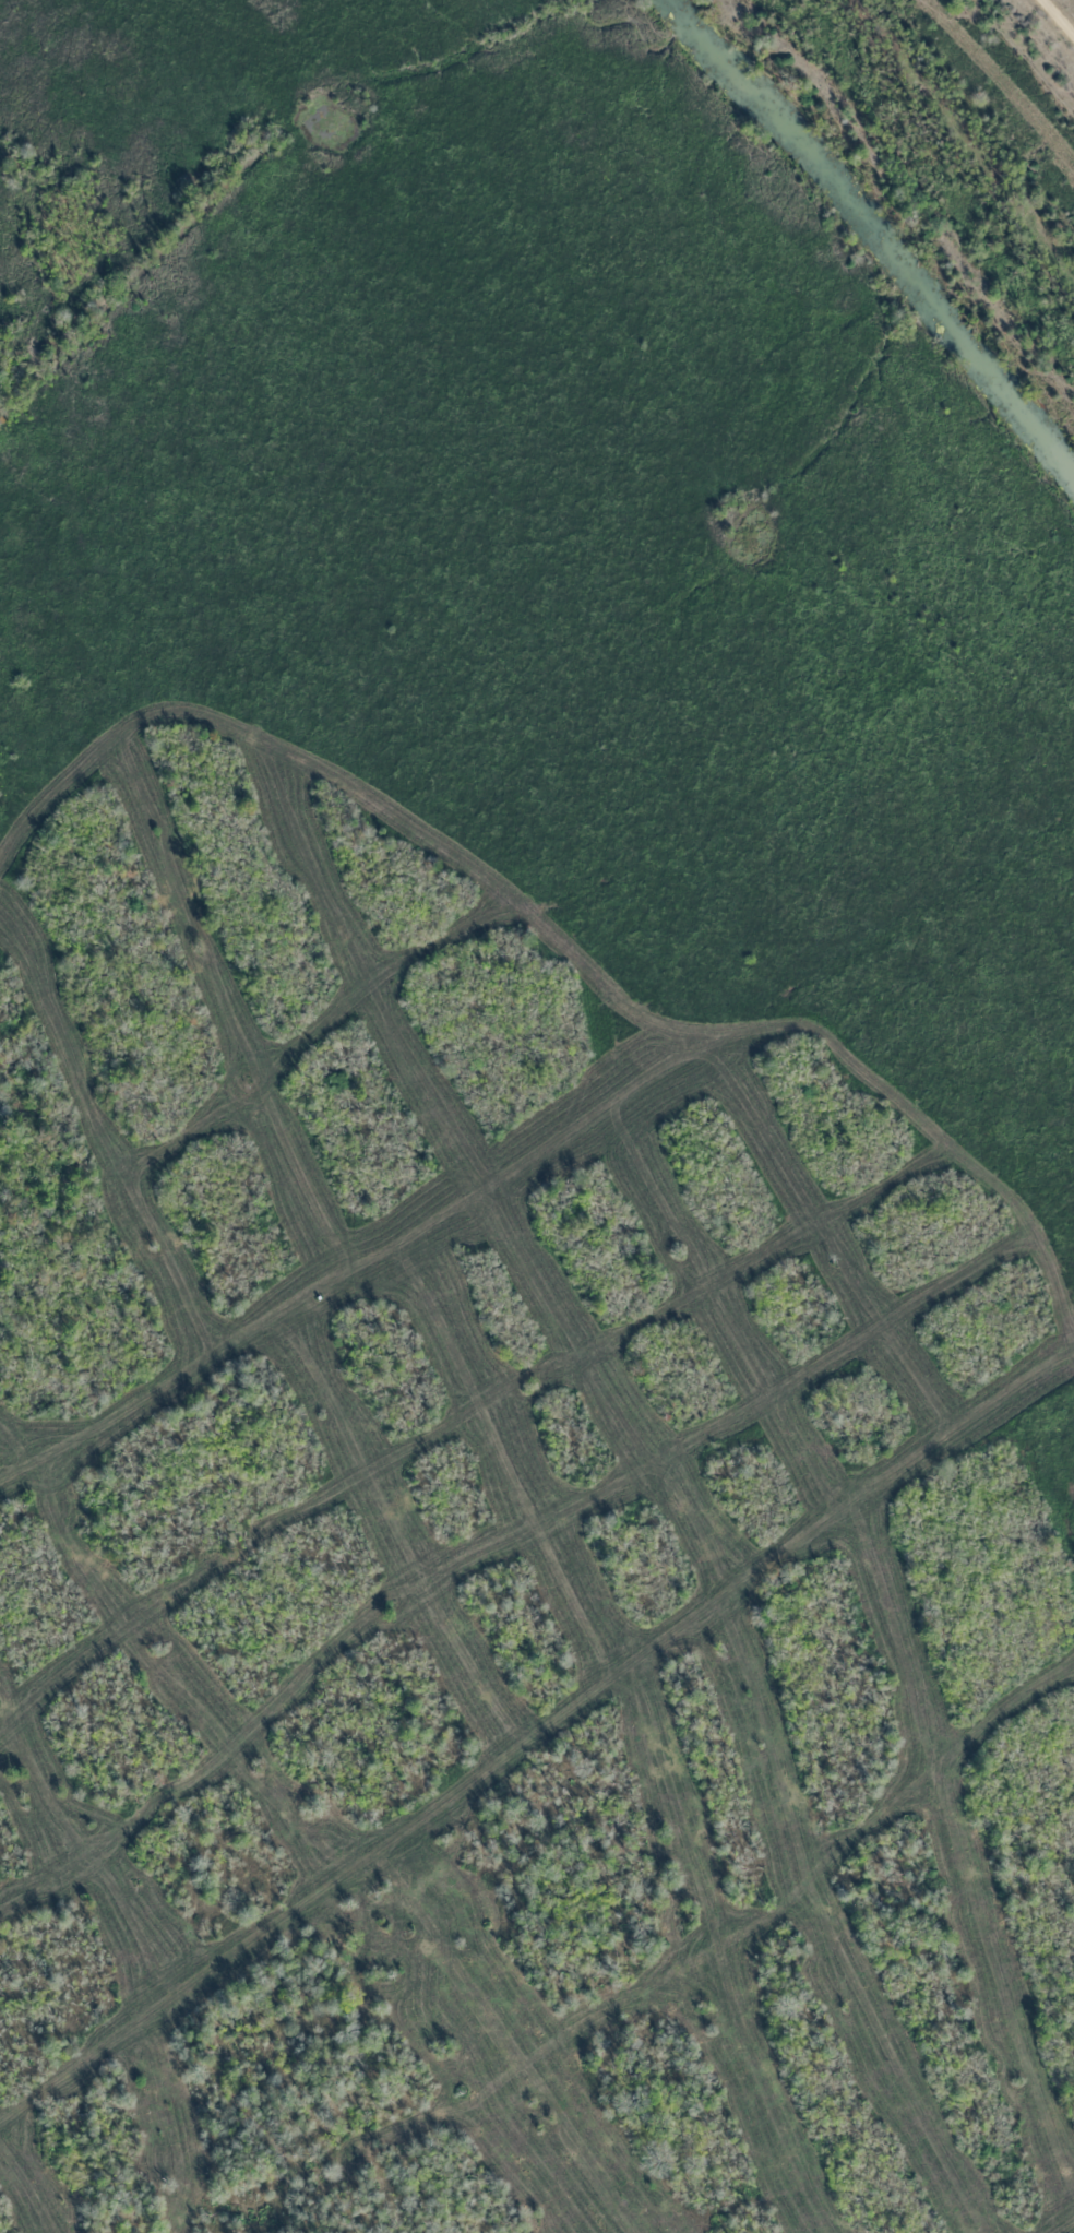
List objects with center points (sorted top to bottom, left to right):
road: (1058, 17)
road: (333, 1286)

